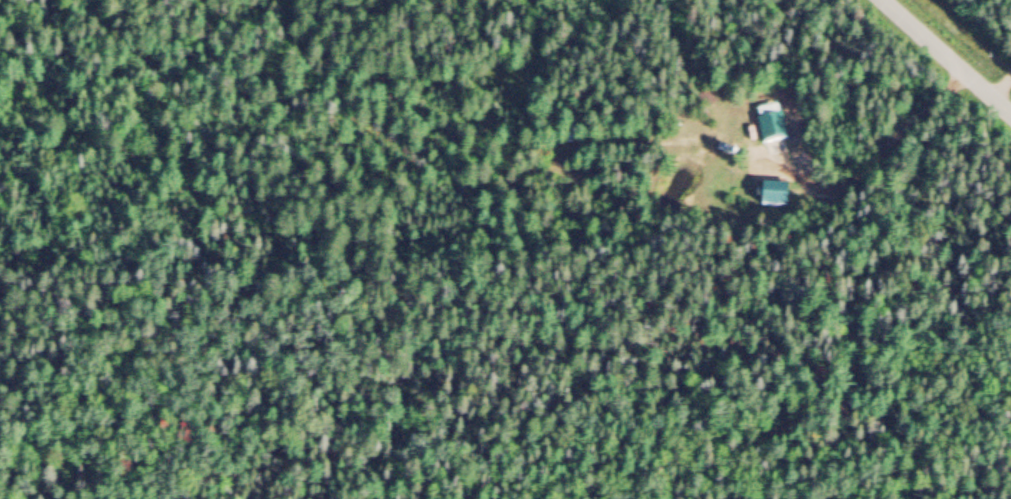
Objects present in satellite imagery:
road: (944, 59)
building: (779, 193)

